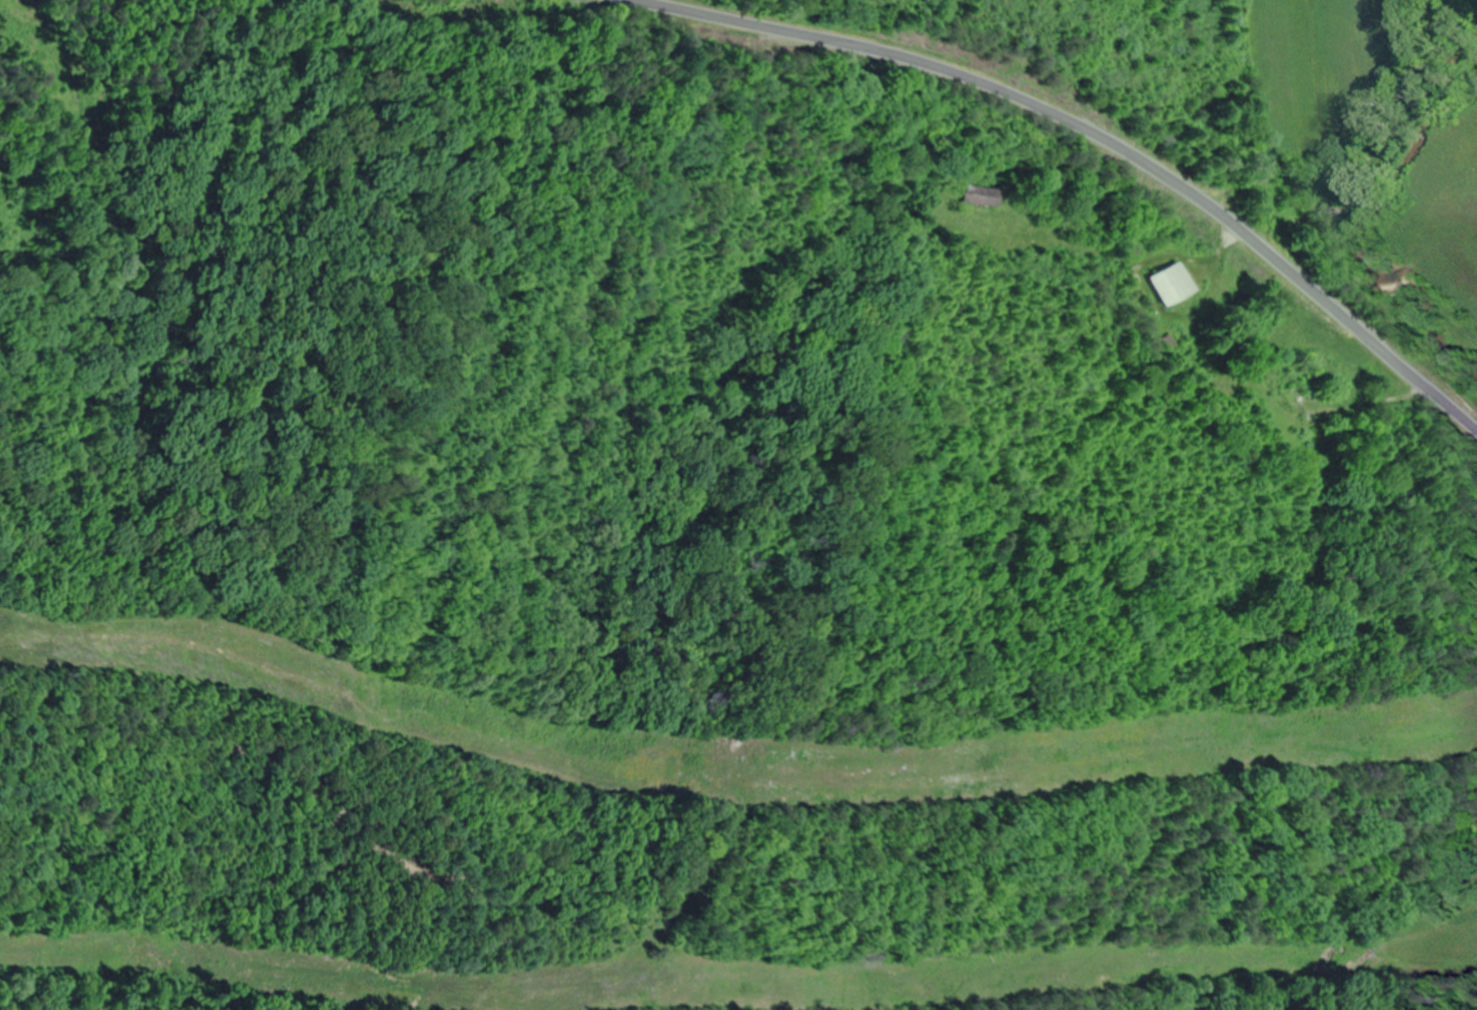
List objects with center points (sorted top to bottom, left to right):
road: (1097, 136)
building: (1170, 284)

